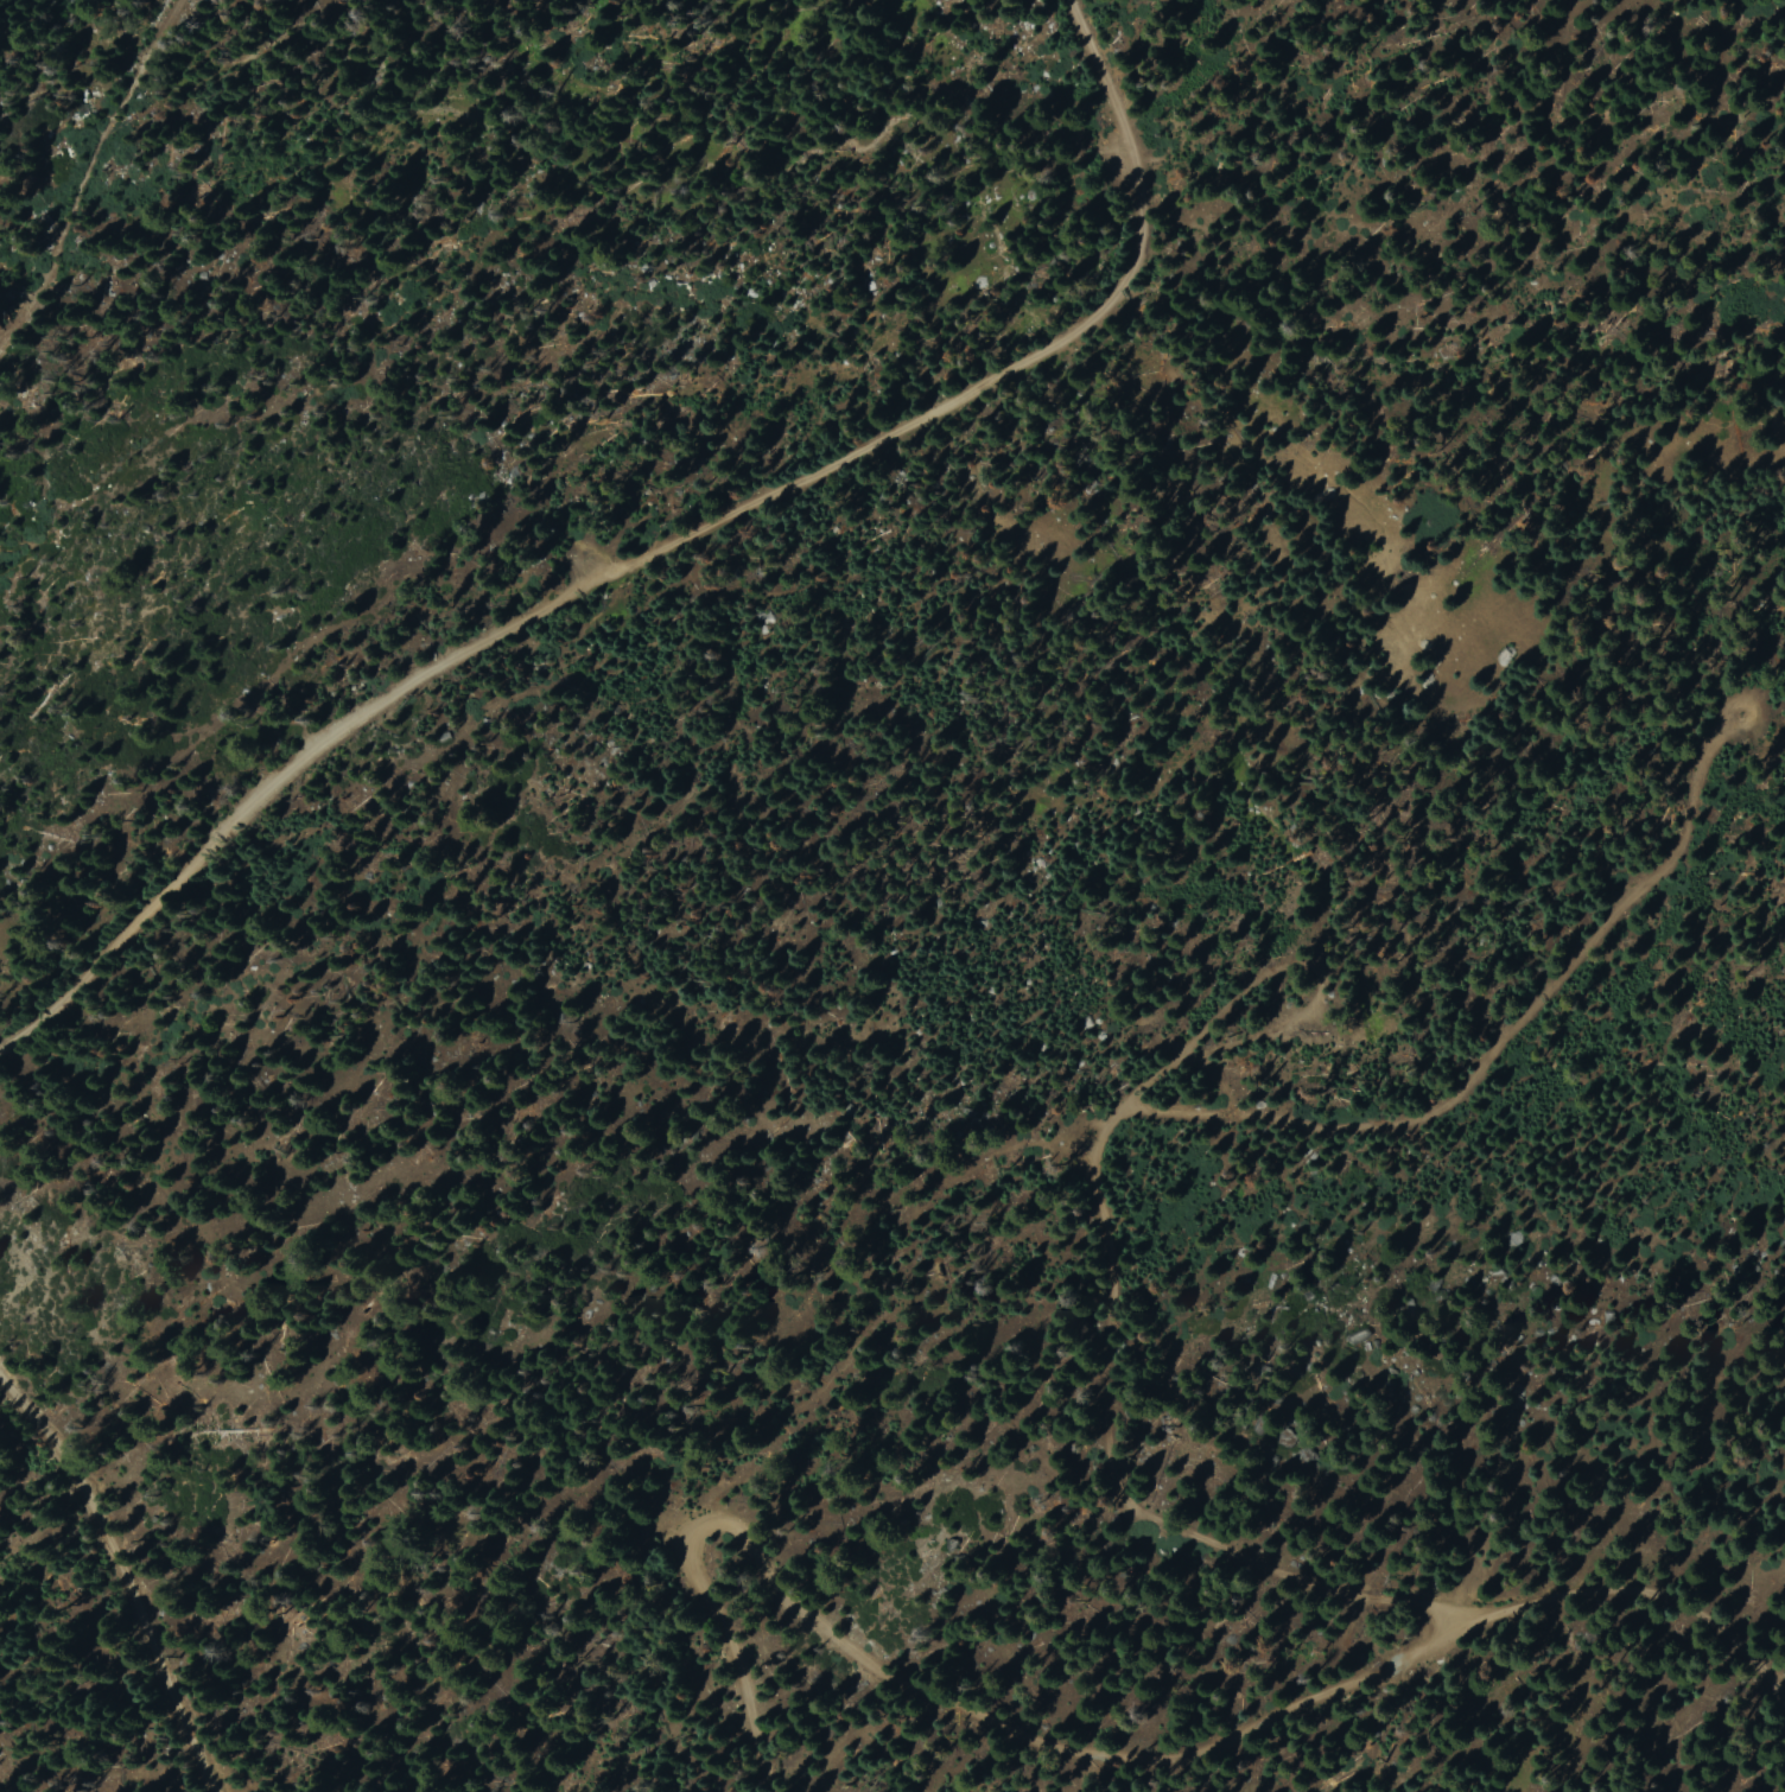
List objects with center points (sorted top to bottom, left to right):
road: (75, 152)
road: (658, 559)
road: (1473, 1087)
road: (1107, 1475)
road: (94, 1620)
road: (957, 1759)

